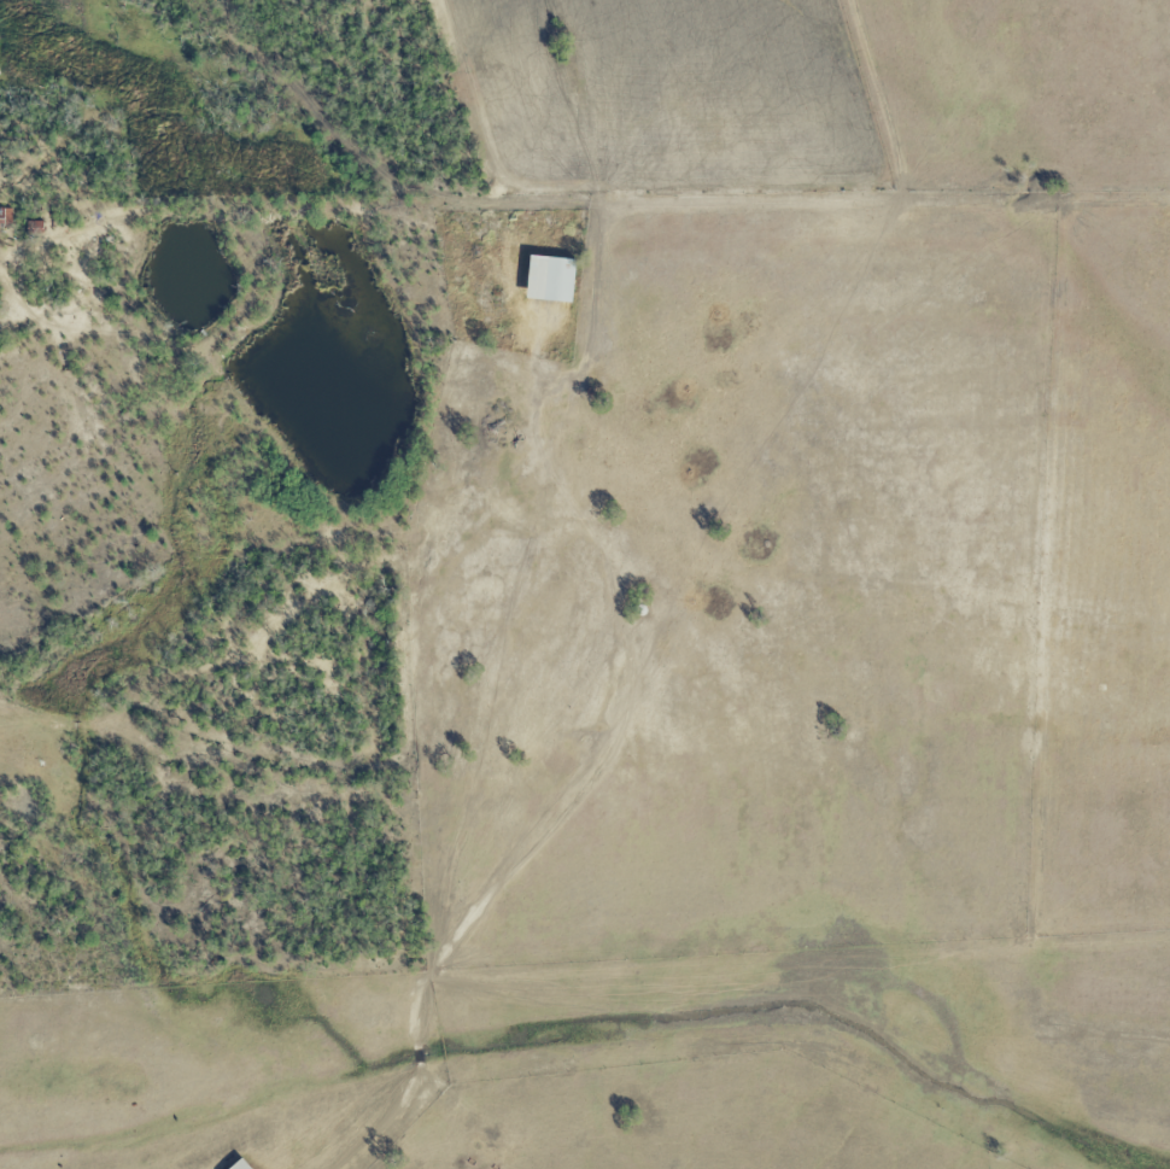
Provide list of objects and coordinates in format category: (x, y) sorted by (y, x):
building: (6, 218)
building: (550, 279)
building: (242, 1164)

